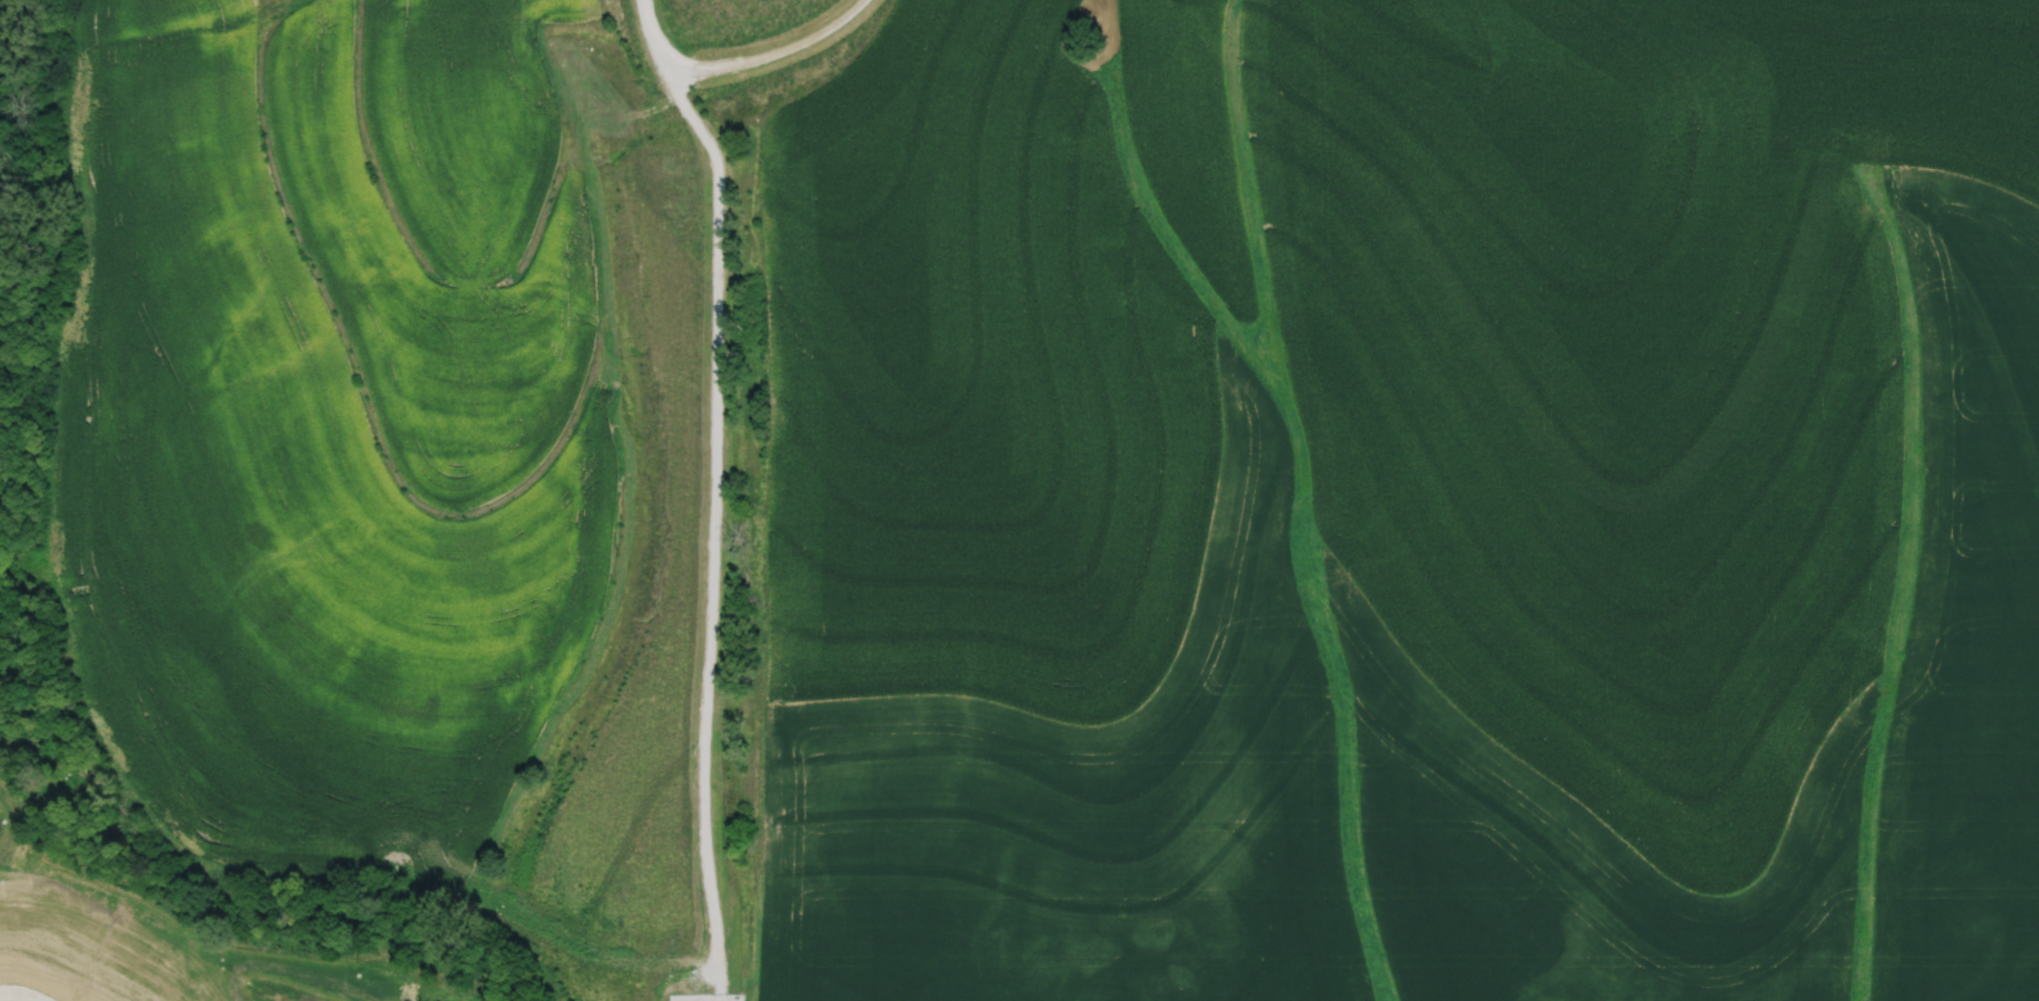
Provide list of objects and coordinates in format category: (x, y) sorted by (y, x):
crop: (3, 14)
road: (653, 34)
road: (769, 52)
crop: (1, 227)
crop: (326, 420)
crop: (1403, 504)
road: (713, 528)
road: (23, 991)

